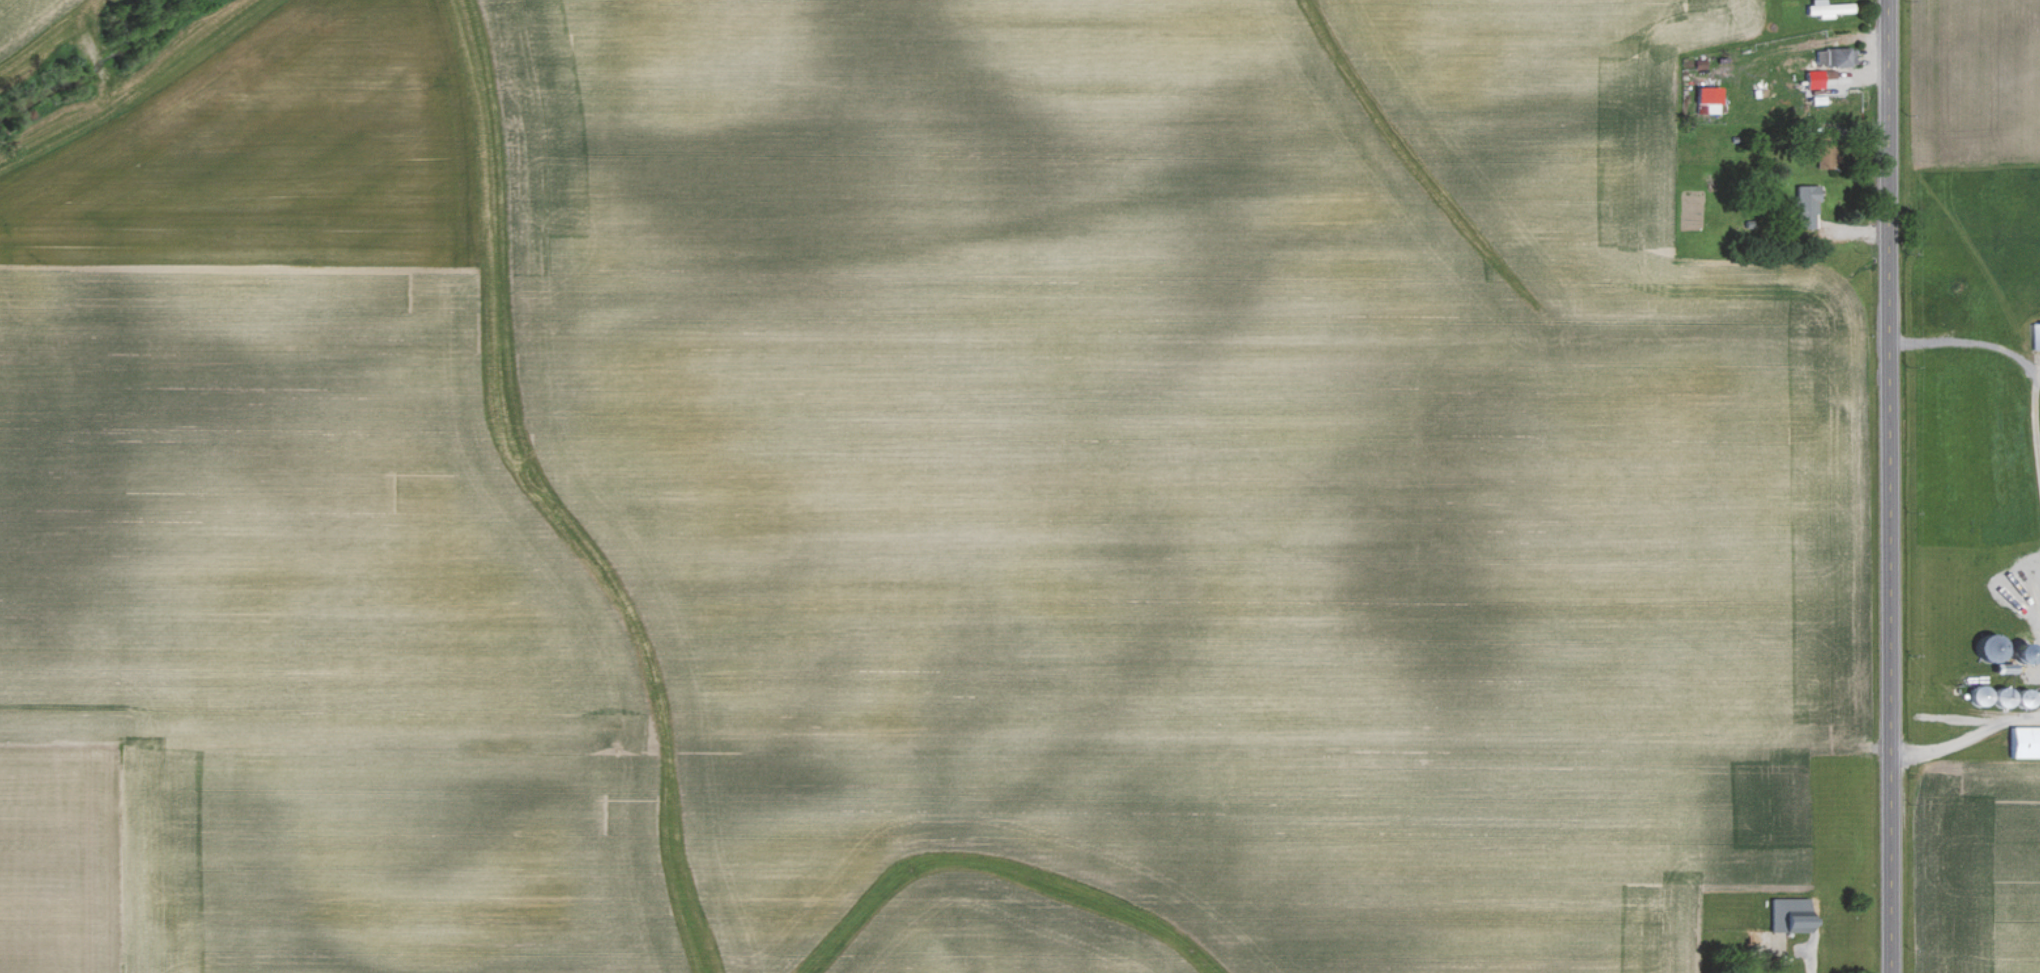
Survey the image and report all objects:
building: (1826, 8)
building: (1834, 56)
building: (1707, 98)
building: (1806, 206)
building: (2035, 336)
road: (1888, 486)
building: (2024, 742)
building: (1788, 915)

